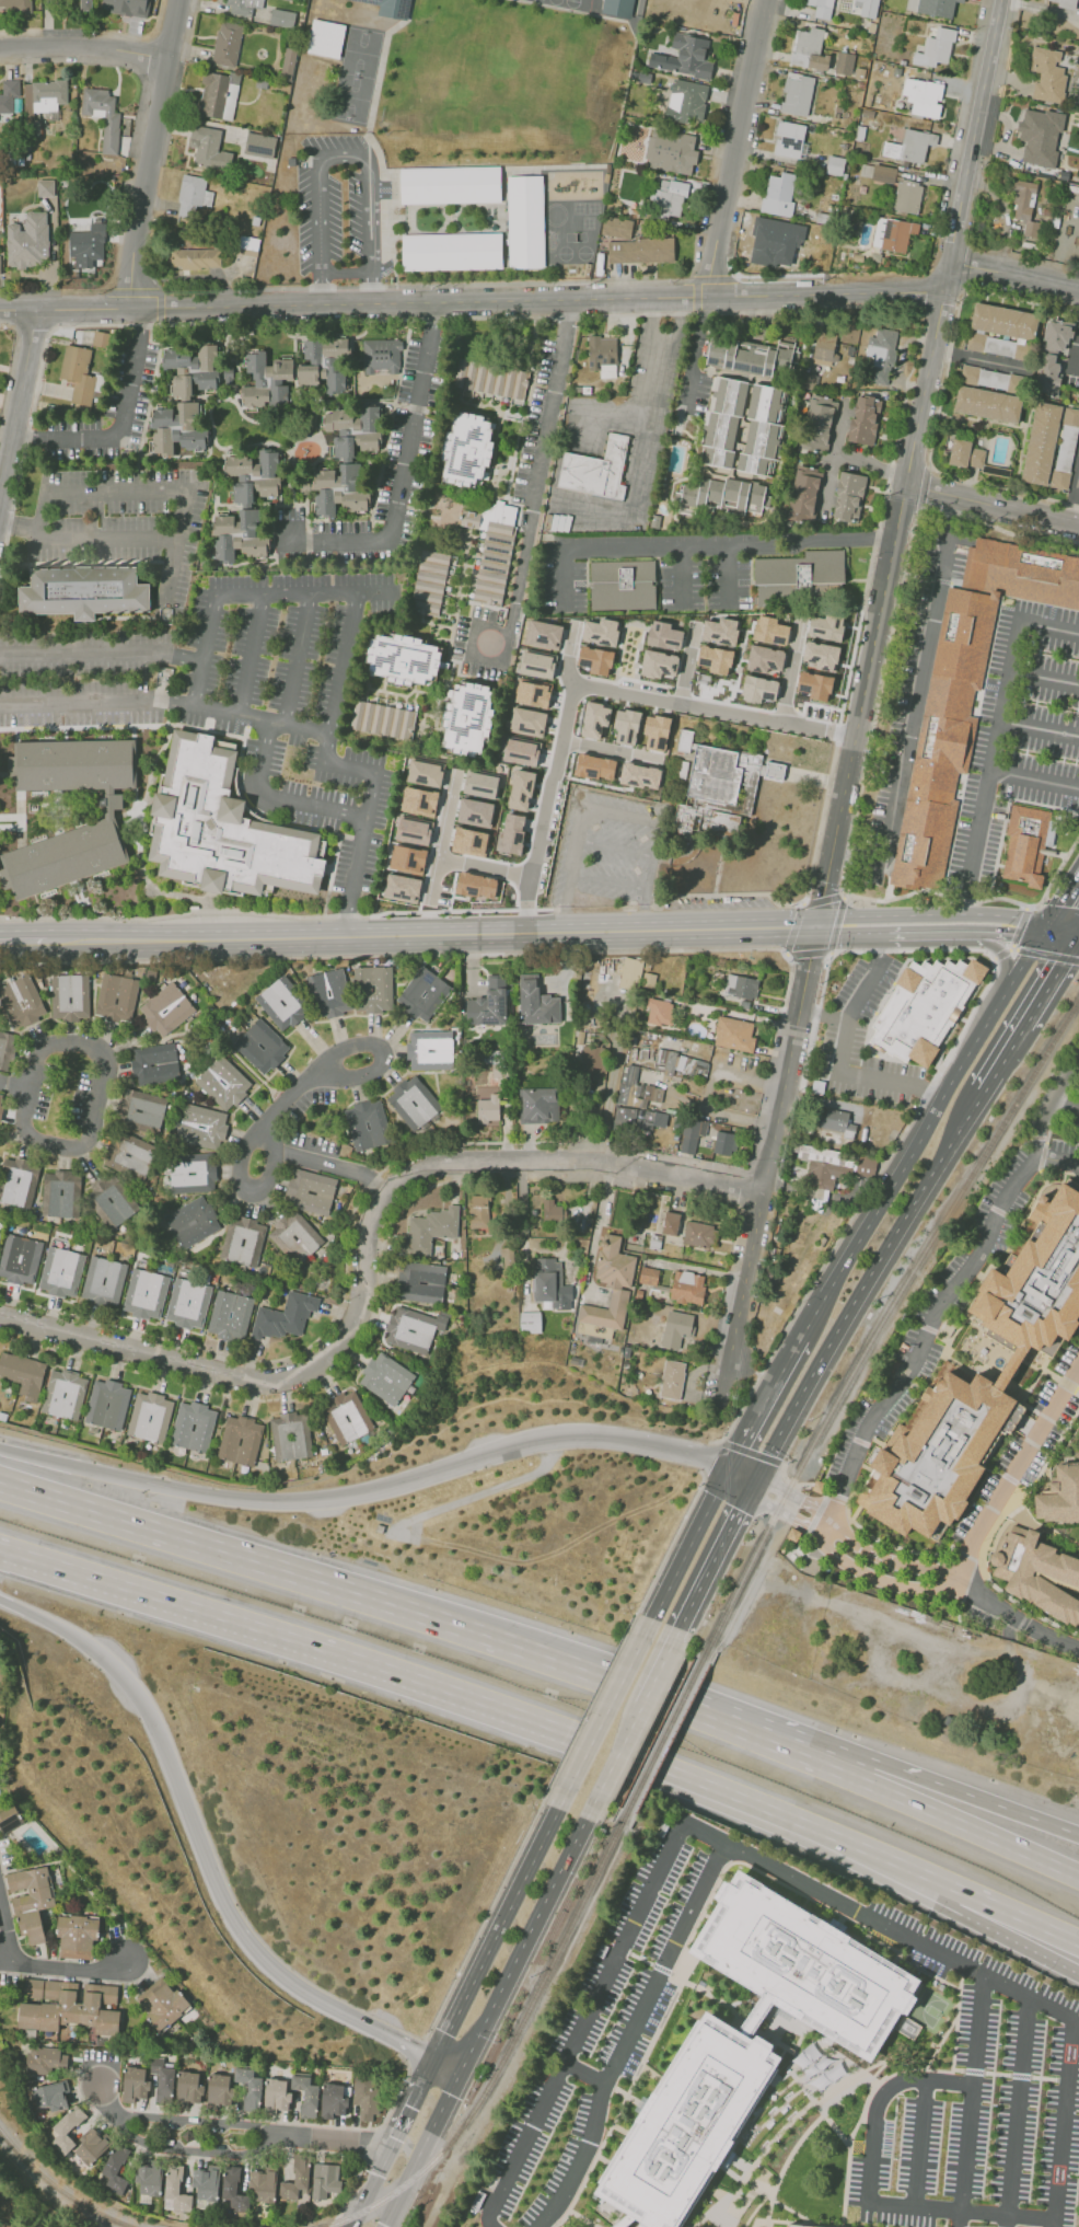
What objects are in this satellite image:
building: (1063, 2)
building: (84, 4)
building: (15, 5)
building: (126, 7)
building: (243, 7)
building: (867, 7)
building: (392, 8)
building: (622, 8)
building: (821, 8)
building: (937, 8)
building: (282, 18)
building: (326, 38)
building: (227, 43)
road: (84, 44)
building: (935, 48)
building: (809, 49)
park: (362, 53)
building: (683, 57)
building: (288, 60)
building: (844, 62)
building: (1047, 74)
building: (797, 93)
building: (218, 95)
building: (923, 96)
building: (44, 97)
park: (353, 97)
building: (9, 100)
building: (685, 101)
building: (103, 116)
building: (1040, 136)
building: (789, 139)
building: (259, 145)
building: (909, 146)
road: (977, 146)
building: (208, 148)
road: (734, 148)
building: (670, 151)
road: (148, 152)
road: (341, 152)
building: (834, 165)
building: (883, 173)
building: (451, 186)
building: (45, 187)
building: (778, 194)
building: (193, 195)
building: (907, 196)
building: (665, 198)
building: (1025, 207)
building: (526, 222)
building: (616, 227)
building: (896, 234)
building: (27, 240)
building: (86, 246)
building: (640, 250)
building: (452, 253)
building: (196, 258)
building: (0, 273)
road: (346, 273)
road: (1018, 273)
road: (827, 293)
road: (418, 300)
road: (66, 311)
building: (1003, 321)
building: (1056, 336)
building: (101, 338)
road: (663, 344)
building: (996, 346)
building: (823, 348)
road: (695, 350)
building: (602, 355)
building: (881, 355)
building: (381, 356)
building: (751, 356)
road: (977, 358)
building: (323, 364)
building: (195, 369)
building: (1047, 372)
building: (80, 376)
building: (991, 379)
building: (266, 380)
road: (939, 397)
road: (16, 401)
building: (987, 404)
road: (118, 419)
building: (863, 419)
building: (722, 422)
building: (819, 423)
building: (176, 428)
building: (763, 429)
road: (837, 434)
building: (1049, 446)
building: (467, 449)
building: (970, 457)
road: (845, 459)
road: (405, 460)
building: (346, 461)
building: (597, 470)
building: (254, 475)
road: (156, 491)
building: (803, 492)
building: (722, 495)
building: (848, 496)
road: (991, 503)
road: (1075, 504)
road: (898, 512)
road: (530, 526)
road: (19, 527)
building: (237, 535)
road: (107, 540)
road: (703, 544)
building: (491, 549)
building: (1021, 573)
road: (681, 577)
building: (798, 577)
building: (429, 581)
building: (624, 585)
road: (374, 591)
building: (82, 592)
road: (280, 593)
building: (826, 627)
building: (720, 631)
building: (770, 631)
building: (600, 632)
building: (543, 634)
building: (663, 635)
road: (201, 654)
road: (568, 654)
road: (100, 655)
road: (250, 655)
building: (820, 655)
road: (297, 658)
building: (765, 658)
building: (402, 659)
building: (595, 659)
building: (715, 659)
building: (536, 664)
building: (658, 664)
road: (921, 677)
road: (1045, 678)
road: (337, 683)
building: (815, 685)
road: (589, 686)
building: (758, 689)
building: (532, 693)
road: (74, 701)
road: (239, 715)
building: (466, 718)
building: (382, 719)
building: (594, 720)
building: (527, 722)
building: (626, 726)
road: (1040, 728)
parking lot: (1024, 730)
road: (212, 731)
building: (657, 732)
building: (943, 738)
road: (997, 739)
road: (266, 748)
building: (521, 751)
road: (865, 762)
building: (594, 766)
road: (350, 768)
building: (425, 772)
building: (640, 775)
road: (1035, 780)
building: (480, 784)
building: (720, 788)
road: (265, 789)
building: (521, 789)
road: (239, 794)
road: (368, 800)
building: (419, 800)
road: (322, 807)
road: (248, 809)
building: (475, 812)
building: (222, 827)
building: (414, 831)
road: (835, 831)
building: (512, 833)
building: (85, 834)
road: (442, 836)
building: (469, 841)
building: (1026, 843)
building: (408, 859)
road: (485, 866)
road: (355, 867)
building: (476, 885)
building: (402, 888)
road: (209, 901)
road: (1058, 908)
road: (275, 914)
road: (346, 914)
road: (948, 914)
traffic signals: (1049, 923)
traffic signals: (815, 927)
road: (579, 932)
road: (927, 934)
road: (845, 935)
road: (1008, 935)
traffic signals: (1078, 937)
road: (1059, 938)
road: (171, 939)
traffic signals: (1040, 941)
road: (1023, 949)
road: (843, 950)
road: (789, 953)
road: (1001, 953)
road: (393, 955)
road: (1003, 957)
road: (1022, 967)
road: (807, 968)
building: (630, 972)
road: (1052, 981)
building: (741, 985)
building: (373, 989)
building: (329, 993)
building: (422, 994)
building: (118, 995)
building: (70, 996)
building: (536, 1002)
building: (281, 1003)
building: (488, 1004)
building: (923, 1007)
building: (166, 1008)
building: (659, 1012)
road: (822, 1014)
building: (733, 1034)
building: (260, 1046)
building: (5, 1049)
building: (430, 1050)
road: (840, 1053)
road: (1005, 1059)
building: (154, 1063)
building: (680, 1063)
road: (613, 1078)
building: (223, 1083)
road: (15, 1084)
road: (297, 1088)
road: (781, 1097)
building: (1, 1100)
building: (413, 1103)
road: (98, 1104)
building: (638, 1104)
building: (537, 1105)
road: (1066, 1107)
building: (488, 1108)
road: (1051, 1108)
building: (142, 1110)
building: (837, 1121)
building: (367, 1124)
building: (201, 1127)
building: (691, 1135)
building: (724, 1143)
building: (131, 1154)
road: (318, 1159)
road: (905, 1167)
building: (832, 1173)
building: (192, 1174)
building: (19, 1181)
building: (310, 1191)
building: (60, 1193)
building: (112, 1201)
road: (858, 1205)
building: (478, 1211)
building: (547, 1211)
building: (192, 1222)
building: (670, 1223)
building: (430, 1228)
building: (699, 1234)
building: (295, 1236)
building: (243, 1241)
road: (362, 1254)
building: (507, 1257)
building: (20, 1259)
building: (613, 1262)
building: (61, 1271)
building: (648, 1276)
building: (103, 1280)
building: (420, 1282)
building: (550, 1283)
road: (866, 1285)
building: (686, 1286)
building: (1040, 1286)
road: (745, 1290)
building: (144, 1294)
building: (187, 1303)
railway: (878, 1304)
railway: (882, 1312)
building: (230, 1315)
building: (603, 1315)
building: (285, 1316)
road: (937, 1318)
railway: (884, 1320)
building: (530, 1322)
building: (411, 1329)
building: (676, 1329)
building: (573, 1360)
road: (756, 1363)
building: (1014, 1372)
building: (23, 1373)
building: (385, 1378)
building: (672, 1378)
building: (63, 1394)
building: (106, 1404)
road: (764, 1404)
building: (150, 1416)
building: (346, 1417)
building: (193, 1426)
building: (290, 1435)
road: (608, 1436)
building: (240, 1440)
road: (750, 1452)
building: (939, 1456)
road: (704, 1457)
road: (72, 1467)
traffic signals: (728, 1470)
road: (1016, 1474)
road: (741, 1477)
road: (790, 1481)
traffic signals: (146, 1484)
traffic signals: (755, 1484)
road: (485, 1490)
building: (1059, 1495)
road: (836, 1497)
road: (792, 1498)
road: (320, 1502)
road: (784, 1513)
road: (816, 1514)
road: (824, 1526)
road: (668, 1550)
road: (684, 1555)
road: (715, 1559)
road: (883, 1562)
building: (1036, 1574)
road: (880, 1579)
road: (322, 1582)
road: (1014, 1616)
road: (79, 1639)
road: (672, 1641)
road: (658, 1672)
road: (477, 1699)
road: (588, 1707)
road: (604, 1715)
road: (726, 1723)
railway: (666, 1730)
railway: (647, 1732)
railway: (657, 1733)
road: (620, 1749)
road: (866, 1761)
road: (999, 1804)
road: (188, 1812)
road: (943, 1816)
building: (9, 1819)
road: (769, 1868)
road: (809, 1896)
road: (953, 1900)
building: (31, 1901)
road: (804, 1903)
road: (488, 1909)
road: (1011, 1912)
road: (707, 1914)
road: (10, 1922)
road: (501, 1924)
building: (77, 1935)
road: (527, 1936)
road: (865, 1941)
railway: (541, 1943)
railway: (549, 1945)
road: (1021, 1946)
road: (689, 1953)
road: (646, 1959)
road: (895, 1961)
road: (71, 1968)
road: (275, 1968)
building: (803, 1968)
railway: (544, 1980)
building: (162, 2004)
road: (744, 2006)
building: (72, 2008)
road: (742, 2017)
road: (956, 2017)
road: (755, 2020)
road: (379, 2030)
traffic signals: (448, 2034)
road: (628, 2035)
road: (797, 2042)
road: (941, 2042)
road: (829, 2043)
traffic signals: (415, 2047)
road: (416, 2053)
building: (45, 2059)
road: (883, 2061)
road: (448, 2065)
road: (587, 2070)
road: (898, 2070)
road: (653, 2073)
building: (162, 2081)
building: (135, 2084)
building: (188, 2087)
building: (250, 2087)
building: (219, 2090)
building: (305, 2093)
traffic signals: (449, 2093)
building: (276, 2095)
road: (627, 2095)
building: (49, 2096)
road: (105, 2097)
road: (625, 2097)
building: (367, 2098)
road: (394, 2098)
road: (415, 2100)
road: (971, 2100)
building: (332, 2101)
road: (439, 2112)
road: (1018, 2112)
road: (200, 2121)
building: (67, 2127)
building: (687, 2128)
road: (838, 2130)
road: (780, 2132)
road: (344, 2137)
building: (919, 2142)
road: (370, 2145)
road: (920, 2145)
building: (91, 2146)
building: (966, 2147)
road: (407, 2148)
road: (794, 2148)
road: (195, 2150)
road: (731, 2153)
building: (114, 2170)
building: (148, 2179)
building: (295, 2179)
building: (325, 2180)
building: (205, 2183)
road: (712, 2183)
road: (373, 2184)
road: (771, 2184)
building: (263, 2185)
railway: (60, 2188)
road: (350, 2189)
road: (739, 2189)
building: (175, 2190)
road: (402, 2190)
building: (232, 2191)
railway: (394, 2192)
road: (50, 2193)
road: (866, 2196)
road: (744, 2204)
road: (769, 2208)
road: (754, 2212)
road: (794, 2212)
road: (579, 2215)
road: (766, 2217)
road: (561, 2218)
road: (335, 2219)
road: (945, 2219)
road: (699, 2220)
road: (614, 2223)
road: (622, 2223)
road: (812, 2223)
building: (4, 2225)
road: (612, 2225)
building: (793, 2226)

